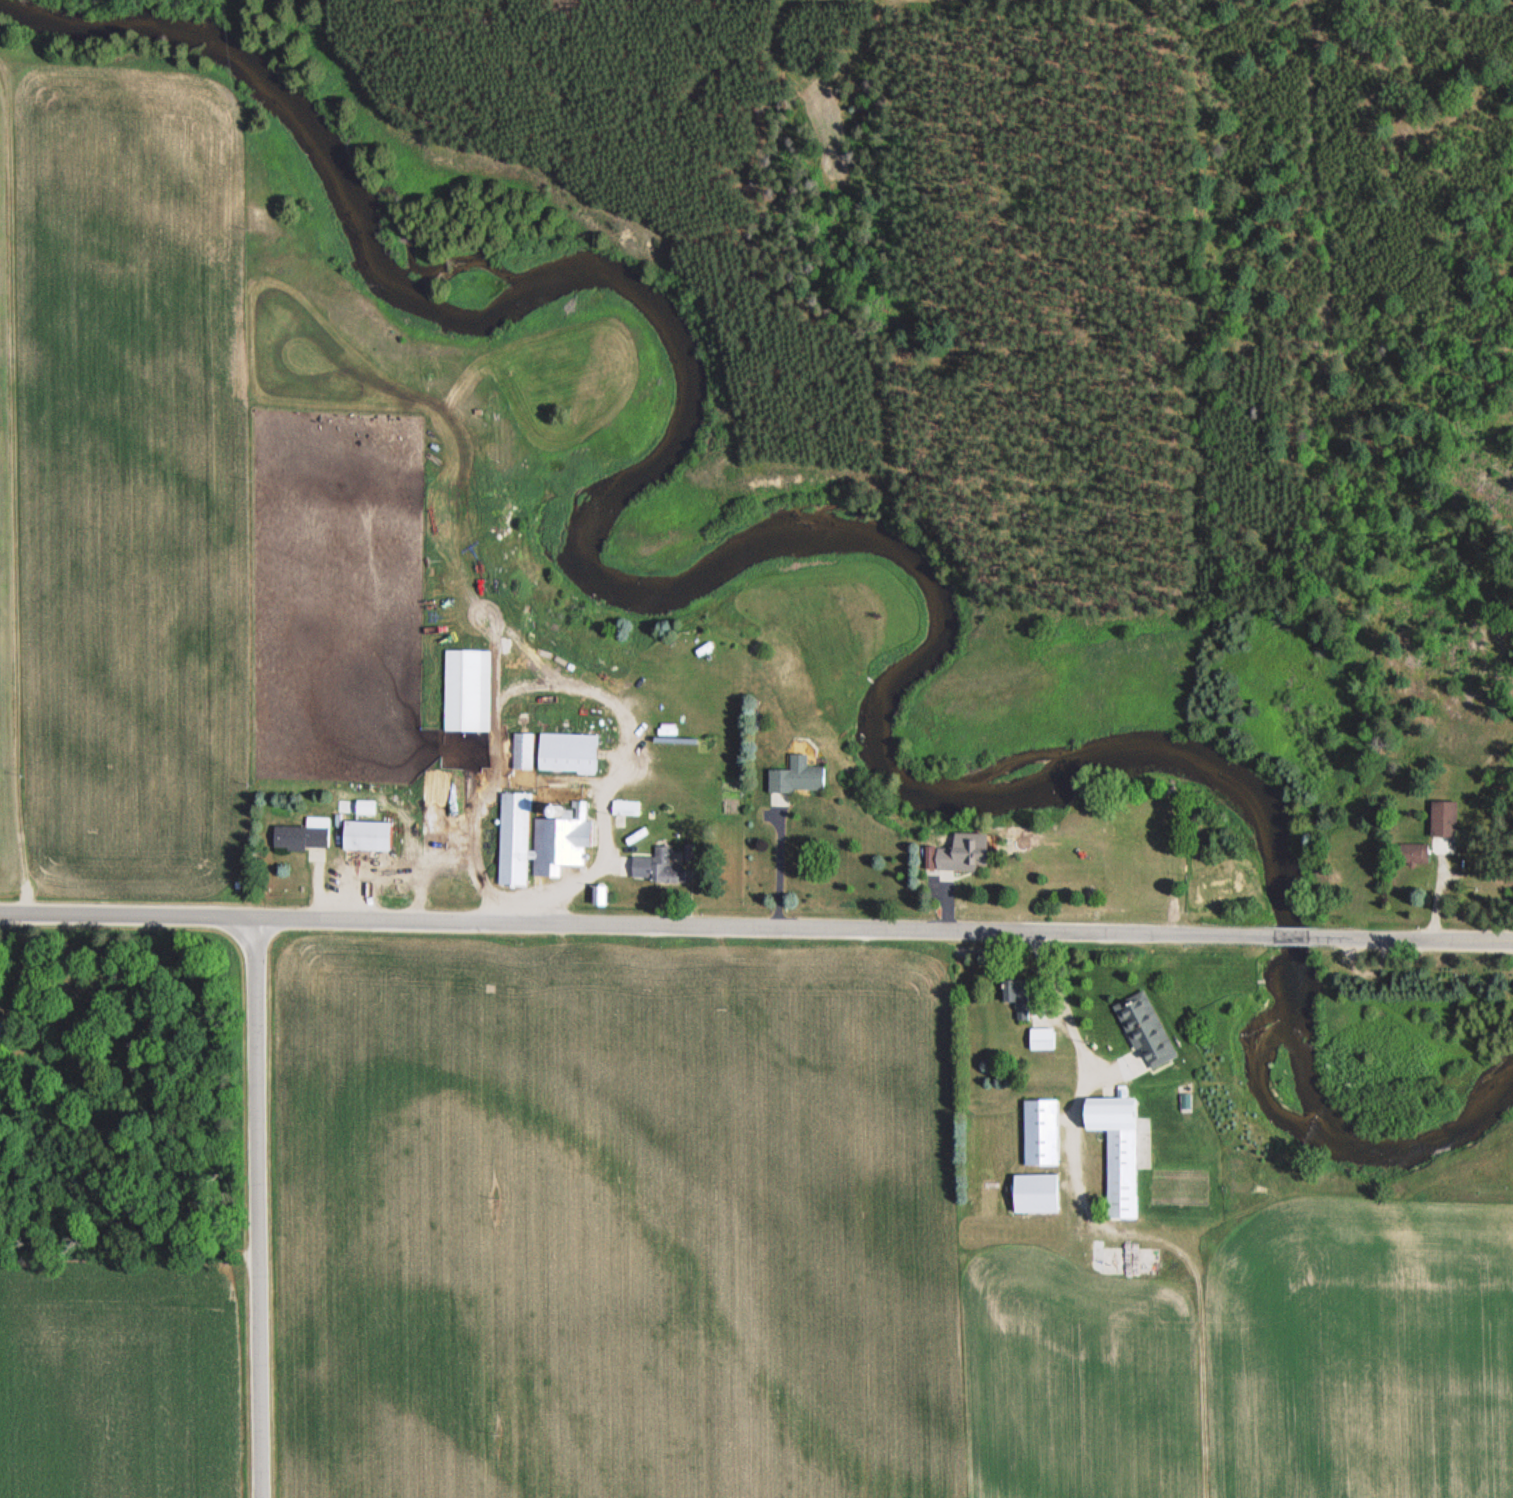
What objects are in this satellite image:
river: (776, 545)
building: (463, 690)
building: (523, 751)
building: (567, 753)
building: (798, 777)
building: (625, 807)
building: (1444, 827)
building: (304, 835)
building: (365, 836)
building: (539, 841)
building: (692, 853)
building: (965, 853)
building: (1413, 854)
road: (781, 862)
building: (655, 867)
building: (597, 895)
road: (949, 902)
road: (635, 924)
road: (1289, 937)
road: (1410, 938)
building: (1019, 997)
road: (1051, 1015)
building: (1145, 1030)
building: (9, 1033)
building: (1042, 1039)
park: (122, 1094)
building: (1040, 1132)
building: (1122, 1144)
building: (1034, 1194)
road: (260, 1209)

